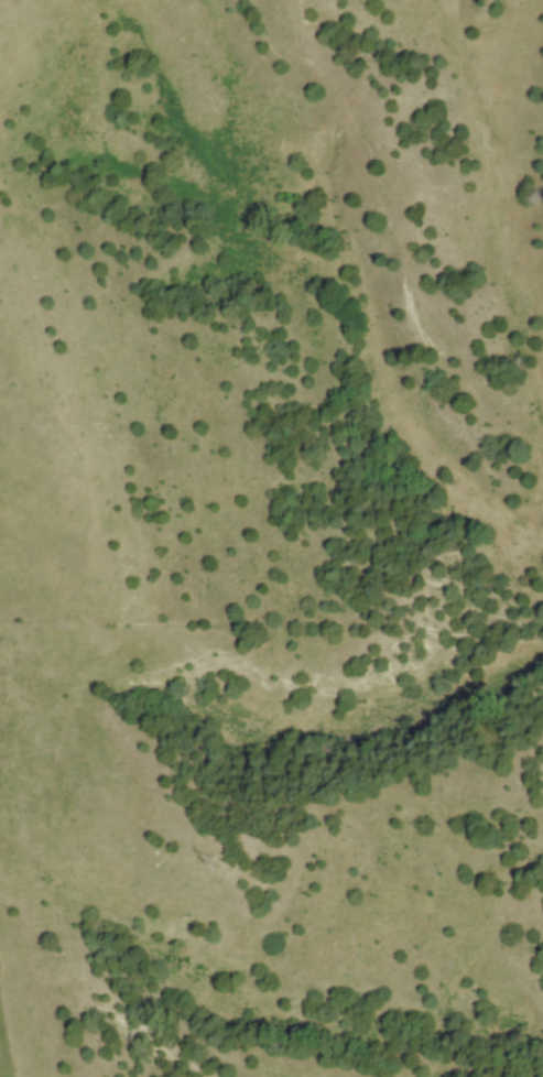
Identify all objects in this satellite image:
power tower: (220, 867)

